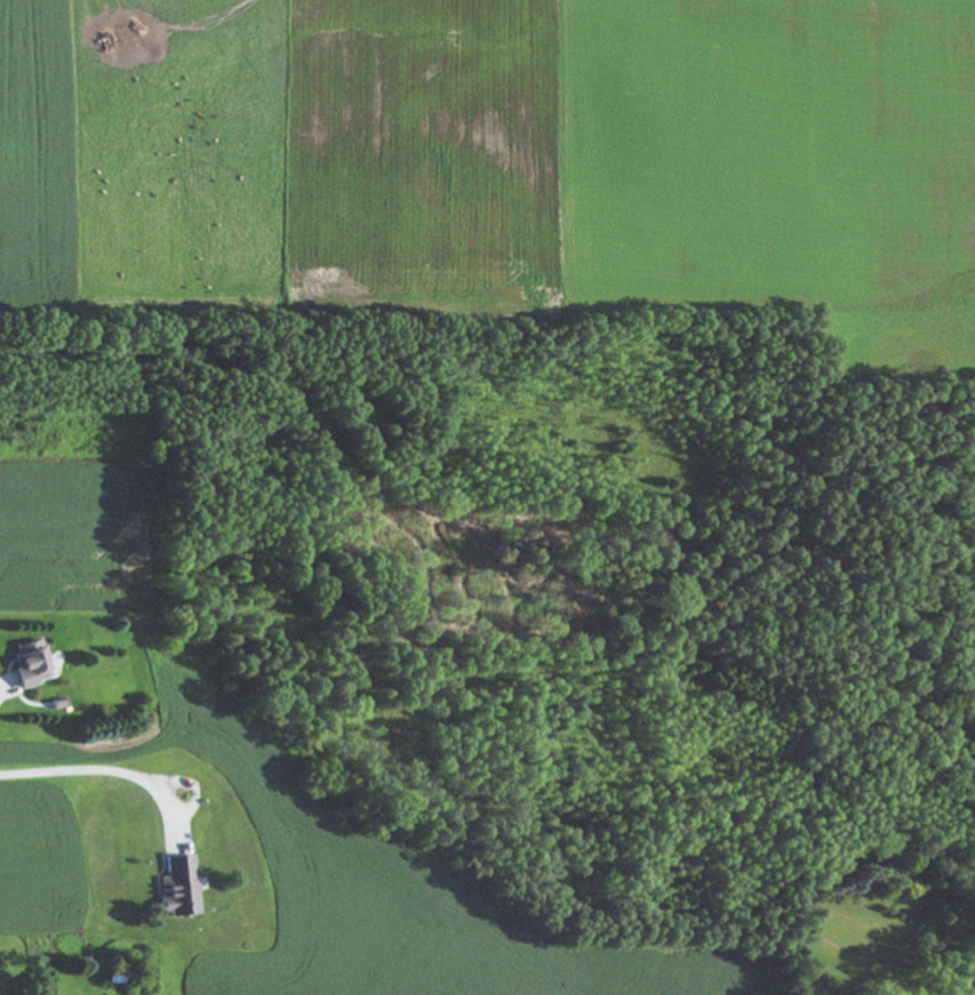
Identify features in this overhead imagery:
building: (27, 665)
road: (97, 771)
building: (175, 888)

